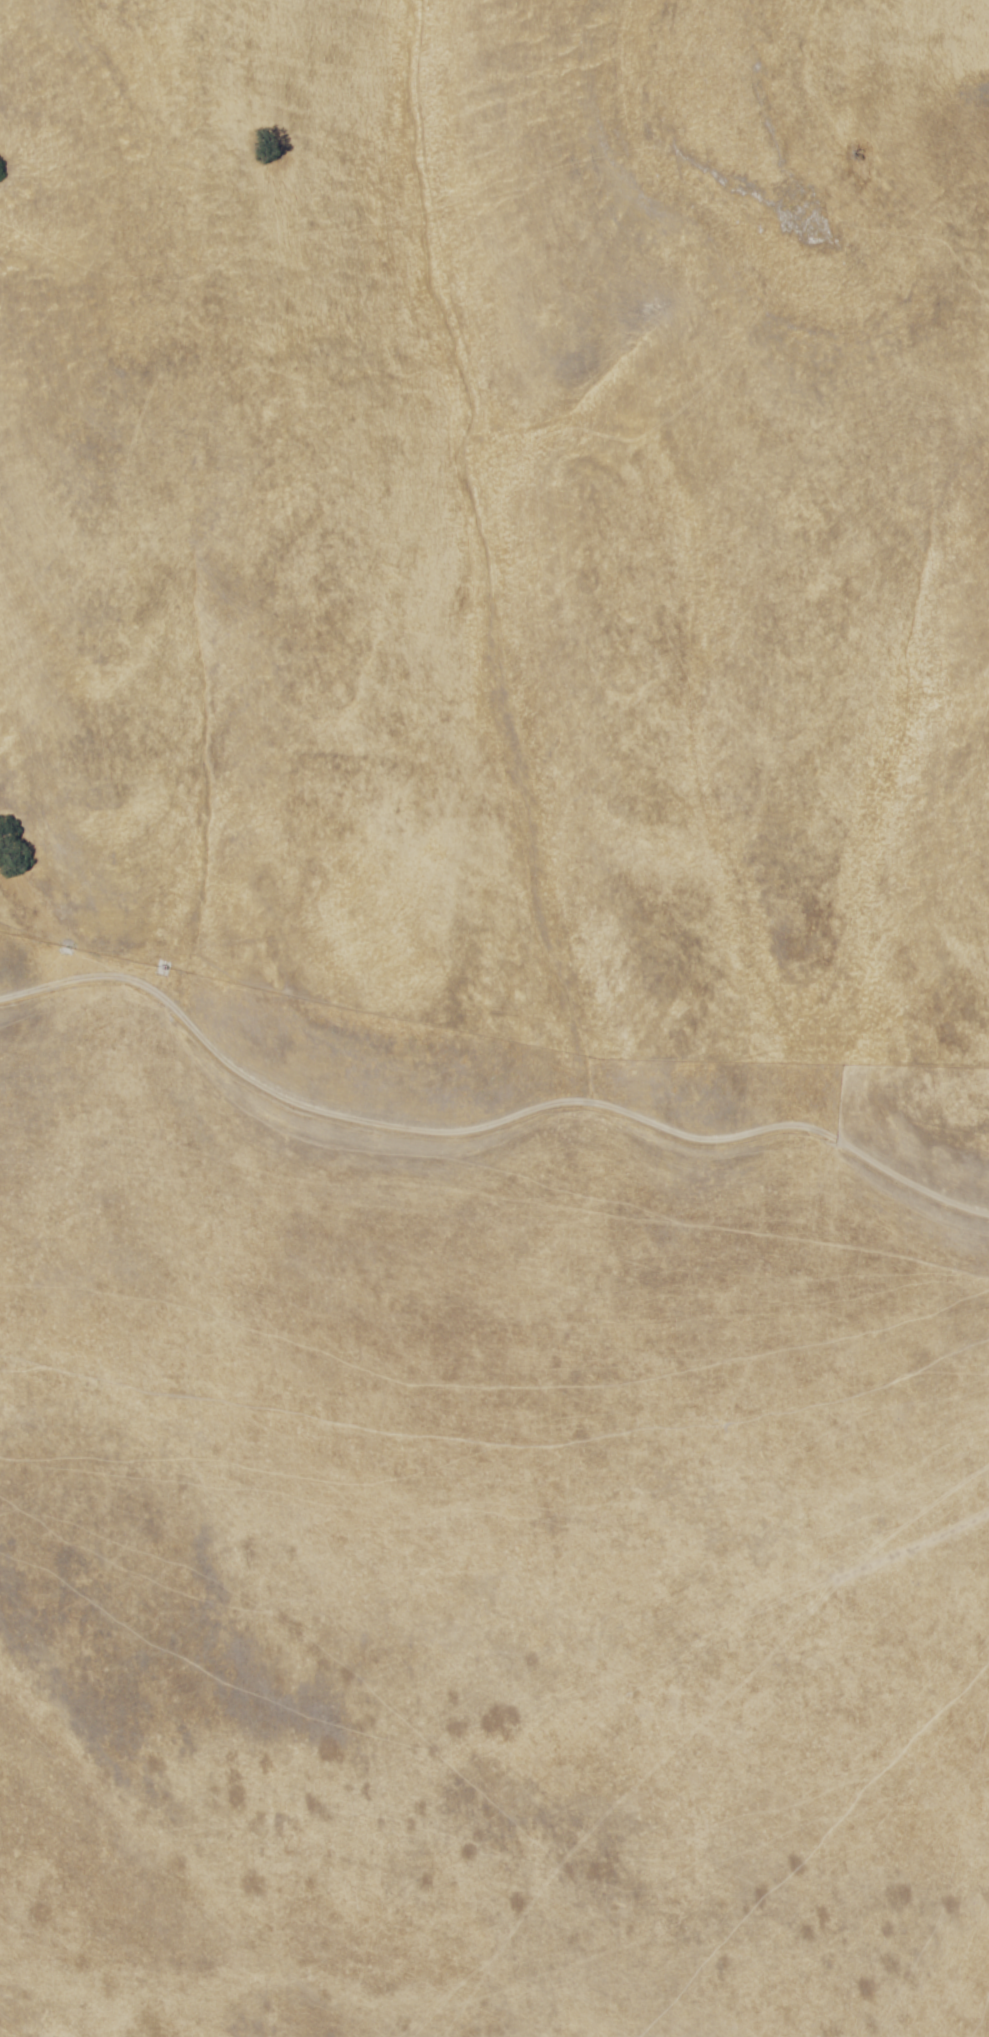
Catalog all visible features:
road: (490, 1083)

